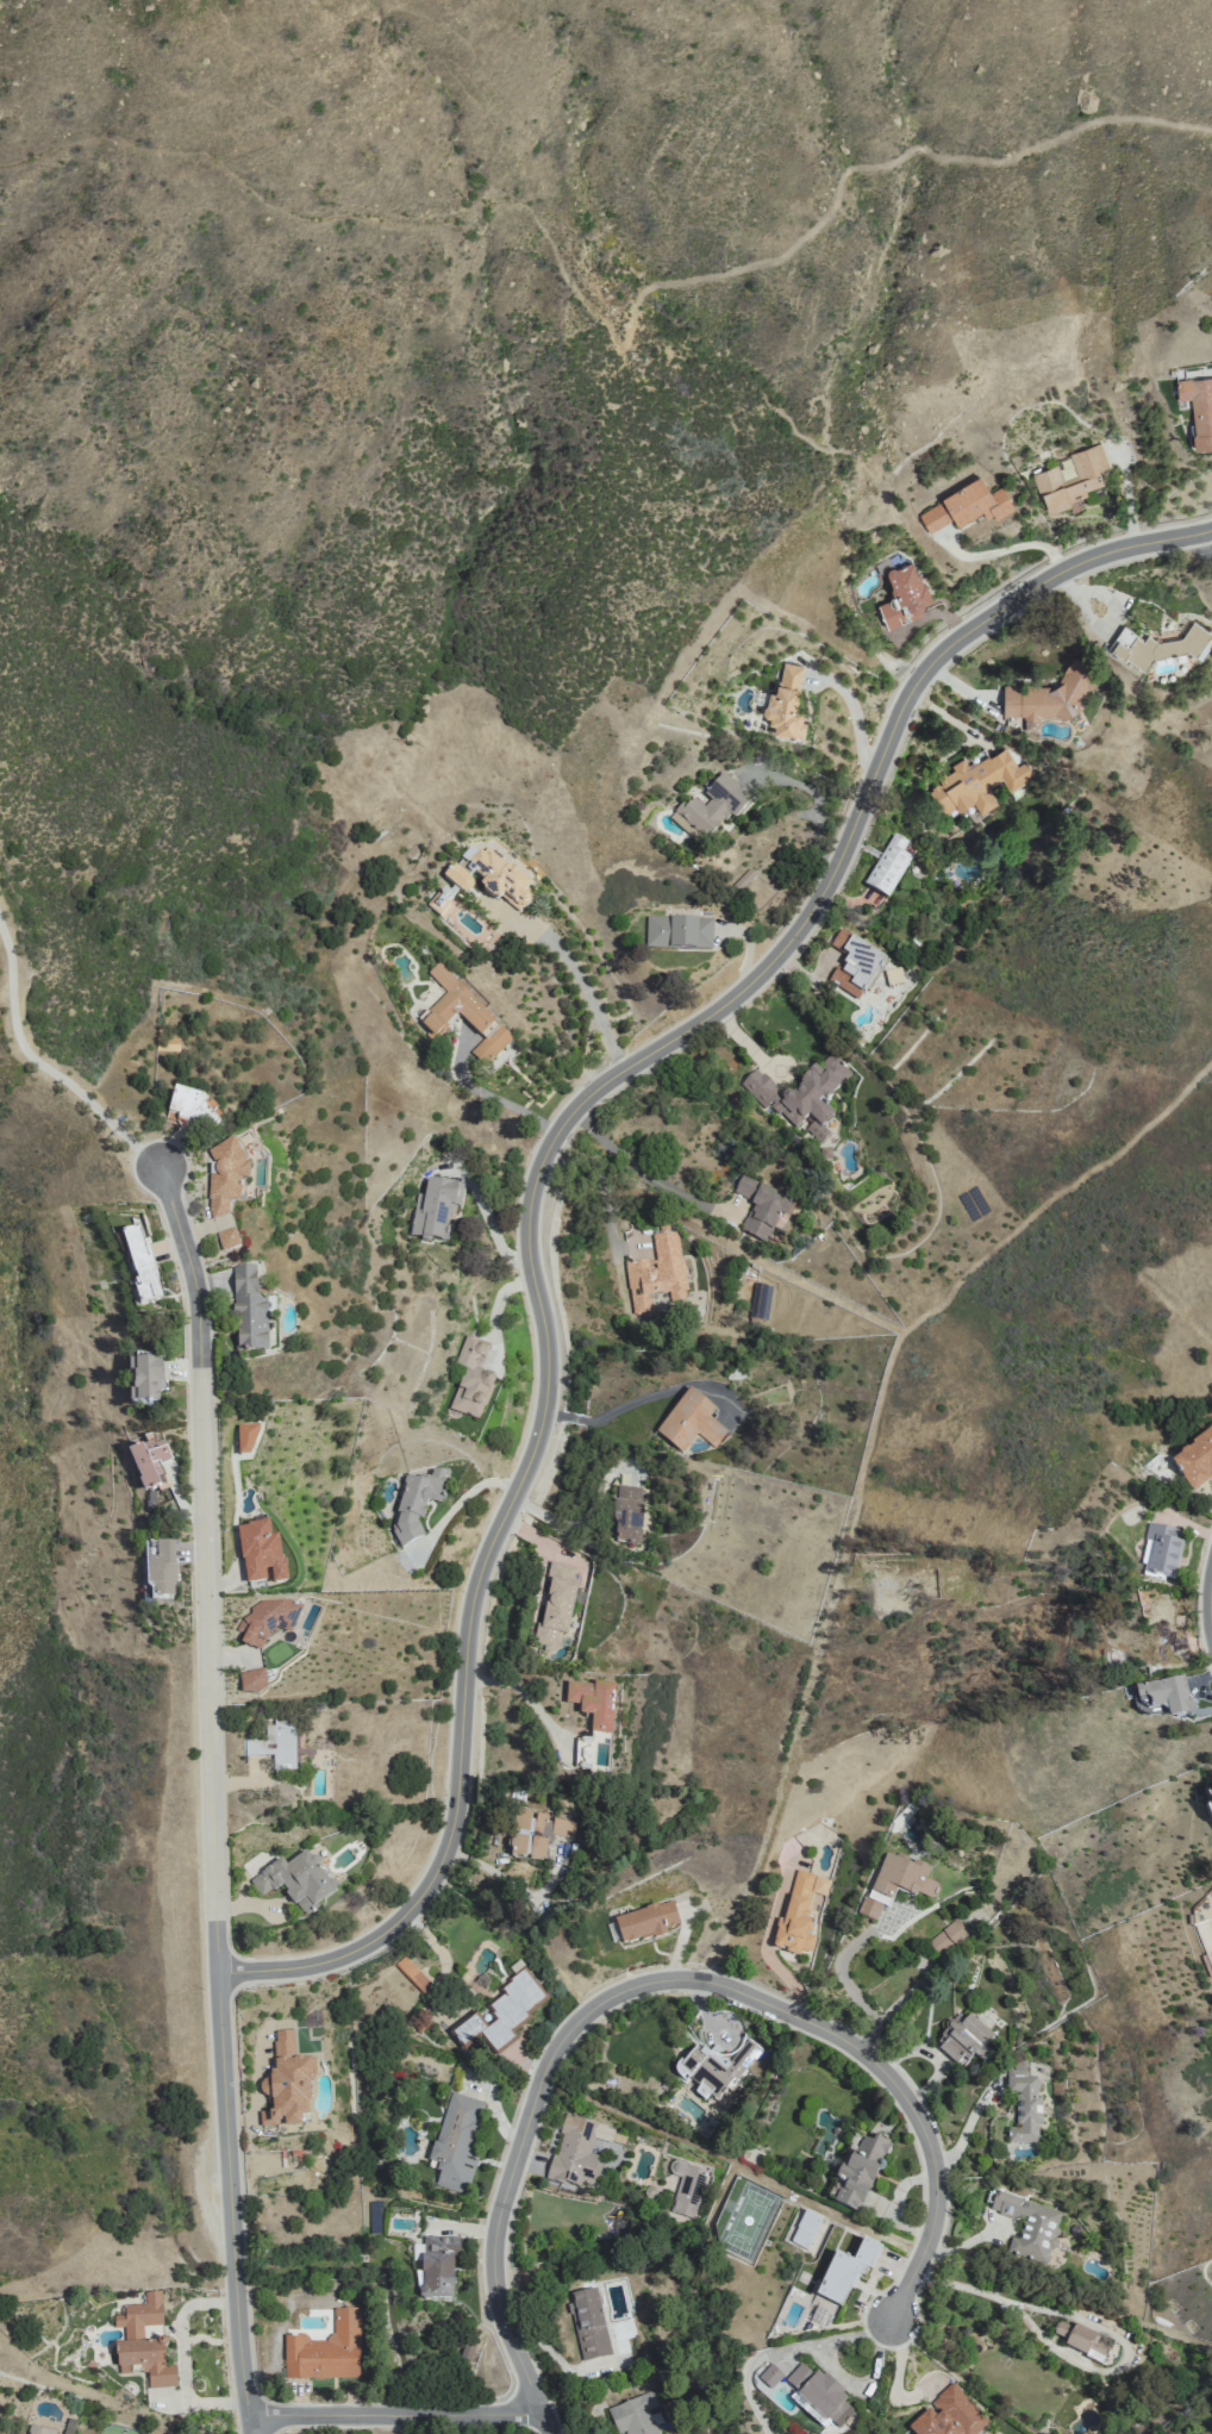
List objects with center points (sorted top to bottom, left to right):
building: (1197, 407)
building: (1072, 478)
building: (966, 505)
road: (1199, 545)
building: (902, 595)
building: (1156, 645)
building: (1050, 694)
building: (785, 703)
road: (855, 724)
building: (977, 781)
road: (814, 795)
building: (711, 809)
building: (888, 866)
building: (489, 876)
building: (441, 903)
building: (679, 932)
building: (855, 966)
road: (589, 997)
building: (463, 1017)
road: (42, 1065)
building: (802, 1096)
road: (495, 1097)
building: (192, 1111)
road: (636, 1161)
road: (541, 1173)
building: (225, 1178)
building: (435, 1206)
building: (760, 1209)
building: (223, 1223)
building: (227, 1240)
building: (140, 1266)
building: (656, 1274)
building: (249, 1311)
building: (144, 1379)
building: (471, 1379)
road: (619, 1408)
building: (691, 1422)
building: (245, 1440)
building: (1195, 1460)
building: (148, 1461)
road: (466, 1496)
building: (417, 1503)
building: (627, 1514)
road: (577, 1519)
building: (1161, 1549)
building: (260, 1554)
building: (894, 1565)
building: (161, 1568)
building: (961, 1585)
building: (556, 1605)
building: (267, 1619)
building: (1162, 1633)
building: (252, 1681)
road: (524, 1692)
building: (1163, 1697)
building: (593, 1702)
building: (275, 1745)
building: (1210, 1793)
road: (213, 1798)
building: (536, 1833)
building: (296, 1879)
building: (896, 1883)
building: (799, 1912)
building: (645, 1922)
road: (525, 1933)
building: (948, 1936)
building: (413, 1976)
road: (666, 1980)
road: (850, 1987)
building: (500, 2015)
building: (963, 2039)
building: (716, 2066)
building: (286, 2084)
building: (1025, 2108)
building: (457, 2140)
building: (575, 2153)
road: (736, 2164)
building: (860, 2171)
building: (686, 2186)
building: (1030, 2227)
building: (805, 2229)
building: (437, 2266)
building: (844, 2274)
building: (588, 2323)
building: (1081, 2340)
building: (143, 2342)
building: (325, 2349)
road: (782, 2352)
building: (770, 2376)
road: (862, 2383)
building: (820, 2394)
road: (395, 2415)
building: (633, 2415)
building: (949, 2415)
road: (550, 2424)

